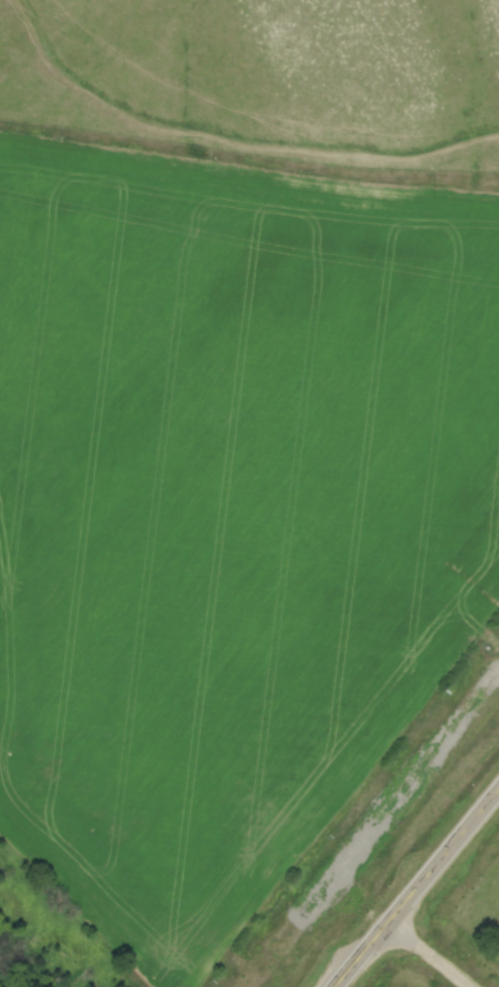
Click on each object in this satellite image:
road: (415, 887)
road: (430, 954)

